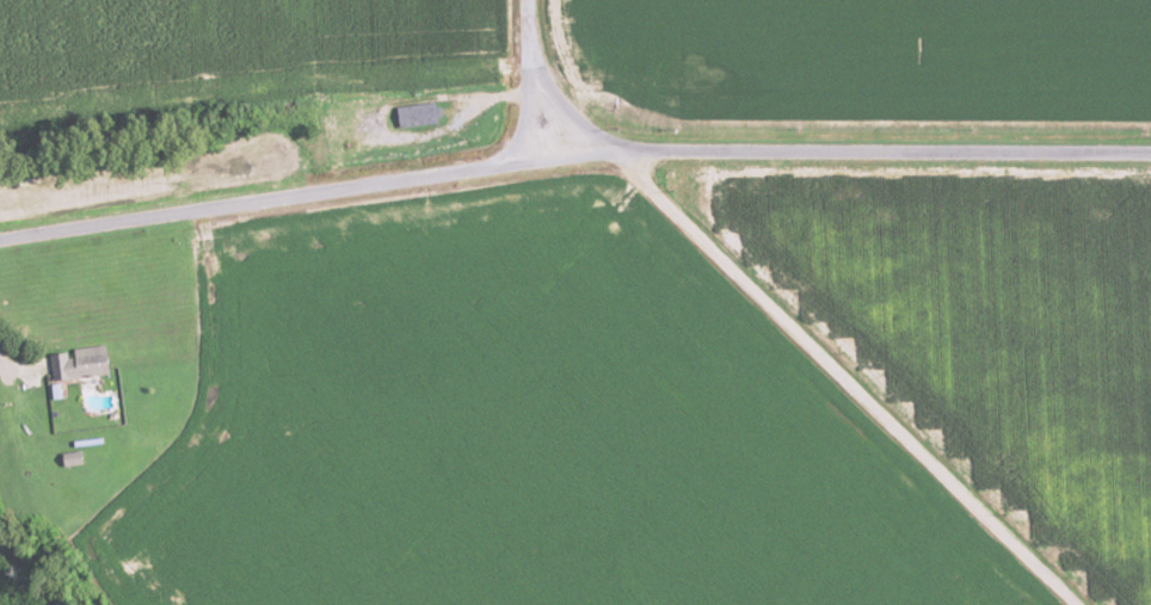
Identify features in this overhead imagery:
road: (525, 85)
road: (565, 106)
road: (825, 152)
road: (250, 203)
building: (88, 360)
road: (851, 378)

